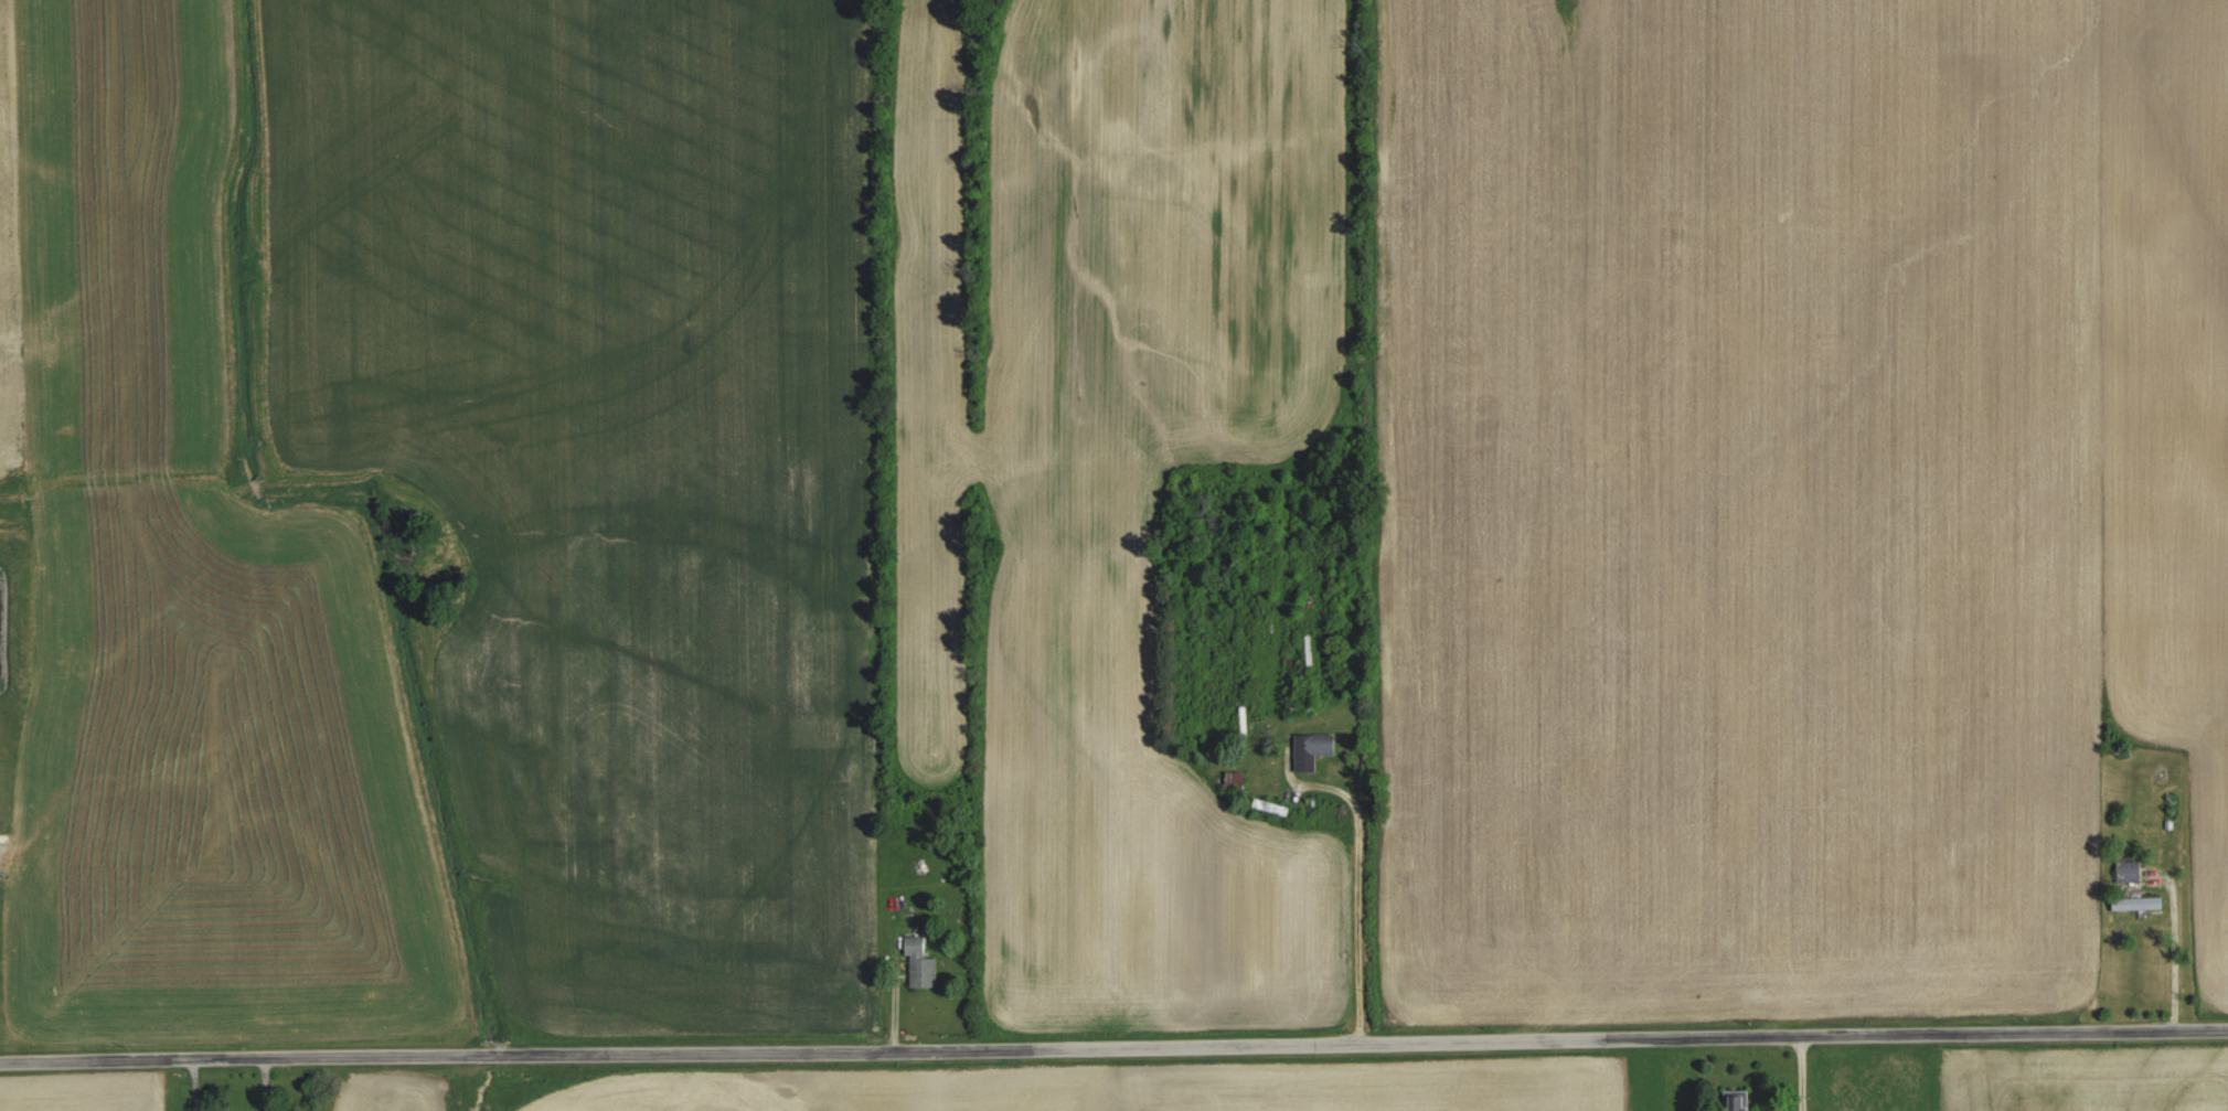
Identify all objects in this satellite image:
building: (1313, 748)
building: (1236, 780)
building: (1271, 804)
building: (2129, 868)
building: (2138, 901)
building: (921, 963)
road: (1113, 1043)
building: (1739, 1100)

